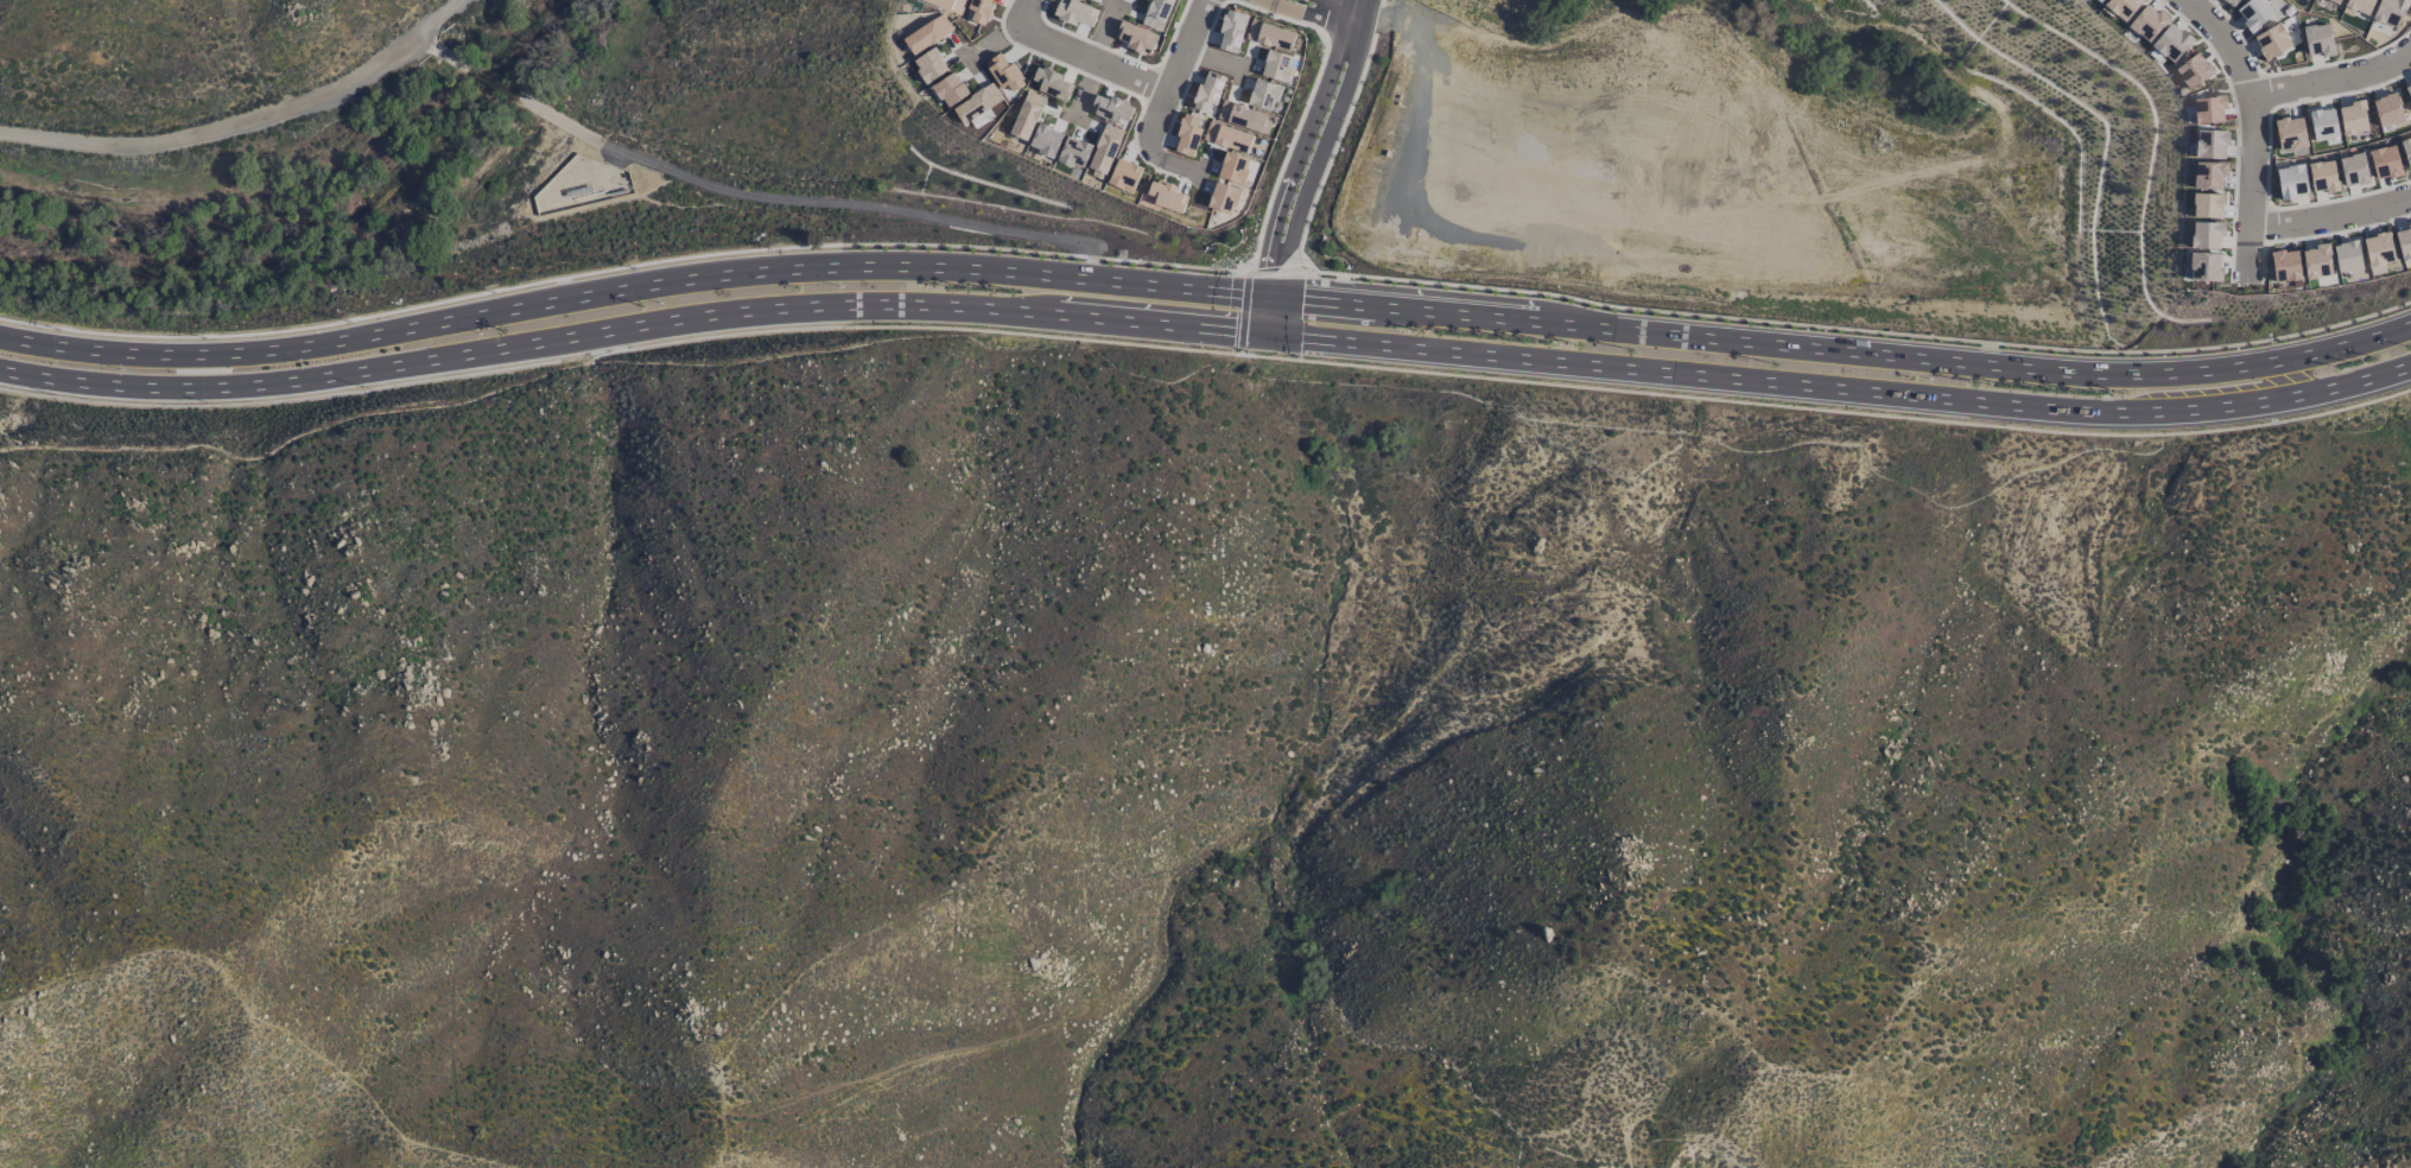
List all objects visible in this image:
building: (2099, 0)
building: (2232, 1)
building: (2335, 1)
building: (947, 4)
road: (1344, 5)
building: (2360, 5)
building: (2123, 7)
building: (981, 11)
building: (1074, 12)
building: (2388, 12)
road: (1311, 14)
building: (2253, 14)
road: (1327, 18)
road: (1416, 20)
building: (2146, 23)
building: (1150, 24)
building: (1231, 31)
building: (927, 34)
building: (1269, 36)
building: (1135, 38)
building: (2317, 39)
road: (1410, 40)
building: (2271, 42)
building: (2170, 43)
building: (929, 65)
building: (1276, 65)
building: (2193, 70)
building: (1003, 72)
road: (2334, 75)
road: (1118, 76)
building: (1052, 84)
road: (1680, 88)
building: (950, 89)
building: (2407, 89)
building: (1207, 93)
building: (1263, 94)
building: (977, 106)
building: (1110, 109)
building: (2208, 109)
building: (2386, 109)
building: (1027, 116)
building: (2352, 118)
building: (1249, 119)
road: (248, 123)
building: (2322, 125)
road: (2253, 129)
road: (1337, 133)
building: (2290, 134)
building: (1187, 137)
building: (1226, 137)
building: (1045, 140)
building: (2210, 144)
building: (2405, 146)
road: (1299, 147)
road: (1150, 148)
road: (1319, 148)
building: (1074, 152)
road: (1284, 152)
building: (1099, 158)
building: (2385, 161)
building: (1233, 167)
building: (2353, 170)
building: (2209, 174)
building: (1124, 176)
building: (2322, 176)
building: (2291, 182)
building: (1166, 196)
road: (750, 197)
building: (1223, 197)
building: (2207, 205)
road: (2331, 217)
road: (1666, 218)
river: (329, 227)
building: (2206, 235)
building: (2404, 241)
building: (2378, 253)
road: (1090, 256)
building: (2346, 256)
building: (2316, 261)
road: (1172, 265)
building: (2284, 266)
building: (2204, 267)
road: (1275, 269)
road: (540, 280)
road: (633, 292)
traffic signals: (1270, 298)
road: (1242, 313)
road: (1269, 316)
road: (633, 320)
road: (1859, 330)
traffic signals: (1269, 334)
road: (1842, 350)
road: (1841, 387)
road: (1629, 391)

